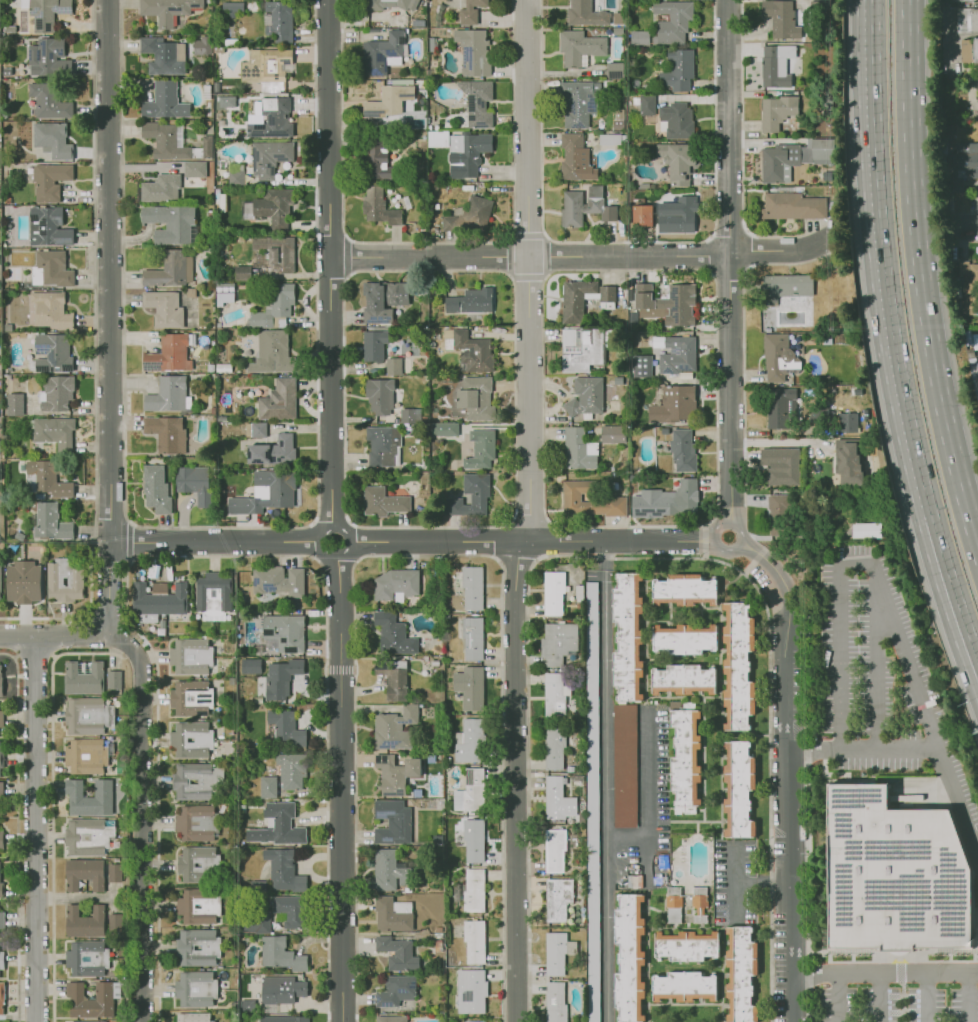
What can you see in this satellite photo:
building: (962, 0)
building: (390, 4)
building: (167, 9)
building: (231, 9)
building: (470, 11)
building: (45, 12)
building: (585, 13)
building: (779, 18)
building: (967, 19)
building: (277, 20)
building: (671, 20)
building: (639, 37)
building: (201, 45)
building: (579, 46)
building: (975, 49)
building: (472, 50)
building: (381, 53)
building: (163, 55)
building: (48, 57)
building: (265, 65)
building: (775, 65)
building: (614, 69)
building: (677, 70)
road: (907, 94)
building: (48, 100)
building: (388, 100)
building: (164, 101)
building: (226, 101)
building: (476, 102)
building: (578, 102)
building: (646, 104)
building: (776, 112)
building: (272, 119)
building: (675, 120)
building: (437, 138)
building: (52, 140)
building: (163, 140)
building: (816, 152)
building: (466, 153)
building: (269, 157)
building: (575, 158)
building: (376, 159)
building: (677, 161)
building: (778, 163)
building: (961, 166)
building: (194, 168)
building: (235, 176)
building: (50, 180)
building: (160, 187)
building: (377, 206)
building: (584, 206)
building: (791, 206)
building: (269, 208)
road: (964, 213)
building: (471, 214)
building: (675, 214)
building: (641, 215)
building: (170, 222)
building: (48, 226)
road: (958, 227)
road: (963, 230)
road: (966, 241)
building: (276, 252)
road: (581, 257)
road: (729, 261)
road: (330, 263)
road: (886, 264)
building: (50, 268)
building: (170, 268)
road: (108, 270)
building: (241, 272)
building: (969, 286)
building: (224, 292)
building: (786, 292)
building: (382, 300)
building: (469, 301)
building: (572, 303)
building: (667, 303)
building: (273, 304)
building: (168, 308)
building: (50, 309)
building: (373, 344)
building: (580, 348)
building: (468, 349)
road: (94, 351)
building: (271, 351)
building: (50, 353)
building: (675, 353)
building: (168, 354)
building: (778, 357)
building: (392, 365)
building: (641, 365)
road: (935, 368)
building: (974, 376)
building: (55, 393)
building: (168, 394)
building: (379, 396)
building: (585, 396)
building: (474, 397)
building: (278, 400)
building: (13, 403)
building: (673, 404)
building: (781, 407)
building: (409, 415)
building: (846, 421)
building: (443, 428)
building: (258, 429)
building: (53, 432)
building: (166, 433)
building: (612, 433)
building: (382, 445)
building: (480, 448)
building: (578, 449)
building: (272, 450)
building: (682, 450)
building: (847, 461)
building: (780, 465)
building: (45, 478)
building: (194, 483)
building: (155, 489)
building: (266, 492)
building: (470, 497)
building: (587, 500)
building: (666, 500)
building: (382, 501)
building: (777, 508)
road: (530, 512)
road: (110, 515)
building: (49, 522)
road: (130, 523)
road: (221, 527)
building: (864, 529)
road: (321, 539)
road: (529, 540)
road: (128, 541)
road: (215, 541)
road: (731, 551)
road: (353, 562)
building: (278, 580)
building: (56, 581)
building: (24, 582)
building: (1, 584)
building: (394, 584)
building: (472, 588)
road: (110, 589)
building: (684, 590)
road: (956, 590)
road: (127, 592)
building: (553, 593)
building: (212, 595)
building: (159, 598)
road: (888, 610)
building: (283, 632)
building: (392, 634)
building: (627, 636)
road: (55, 637)
building: (472, 638)
building: (685, 639)
building: (557, 642)
road: (126, 643)
building: (190, 655)
parking lot: (873, 656)
road: (33, 658)
road: (875, 661)
building: (250, 665)
building: (737, 666)
building: (280, 677)
building: (84, 678)
building: (683, 679)
building: (115, 680)
building: (1, 681)
building: (393, 682)
building: (469, 686)
building: (554, 695)
building: (190, 697)
building: (89, 716)
building: (2, 719)
building: (395, 727)
building: (285, 728)
building: (190, 739)
building: (469, 741)
building: (552, 749)
road: (861, 753)
building: (1, 756)
building: (87, 756)
building: (685, 756)
building: (624, 765)
building: (412, 767)
building: (290, 771)
road: (785, 774)
building: (389, 776)
road: (605, 780)
building: (196, 781)
building: (267, 786)
road: (338, 787)
road: (646, 787)
building: (738, 789)
building: (469, 791)
building: (90, 798)
building: (557, 799)
building: (2, 800)
building: (592, 802)
road: (52, 803)
building: (391, 821)
road: (145, 822)
building: (195, 822)
building: (277, 825)
road: (35, 829)
road: (17, 832)
building: (89, 836)
building: (2, 840)
building: (473, 840)
building: (553, 850)
building: (198, 863)
building: (282, 869)
building: (85, 874)
building: (115, 874)
building: (896, 875)
road: (744, 881)
building: (2, 886)
building: (473, 889)
building: (556, 898)
building: (699, 901)
road: (732, 901)
building: (198, 905)
building: (673, 905)
building: (290, 909)
building: (392, 913)
building: (699, 915)
building: (2, 920)
building: (86, 922)
building: (255, 923)
building: (117, 924)
building: (473, 941)
building: (687, 946)
building: (197, 947)
building: (396, 952)
building: (557, 952)
building: (279, 954)
building: (628, 957)
building: (100, 959)
building: (2, 961)
building: (740, 973)
road: (818, 974)
road: (885, 974)
building: (683, 986)
building: (194, 988)
building: (280, 989)
building: (395, 990)
building: (470, 991)
building: (2, 998)
road: (880, 998)
road: (928, 998)
road: (969, 998)
building: (105, 999)
building: (555, 1001)
parking lot: (899, 1001)
building: (194, 1017)
building: (284, 1018)
building: (389, 1018)
building: (90, 1021)
building: (473, 1021)

